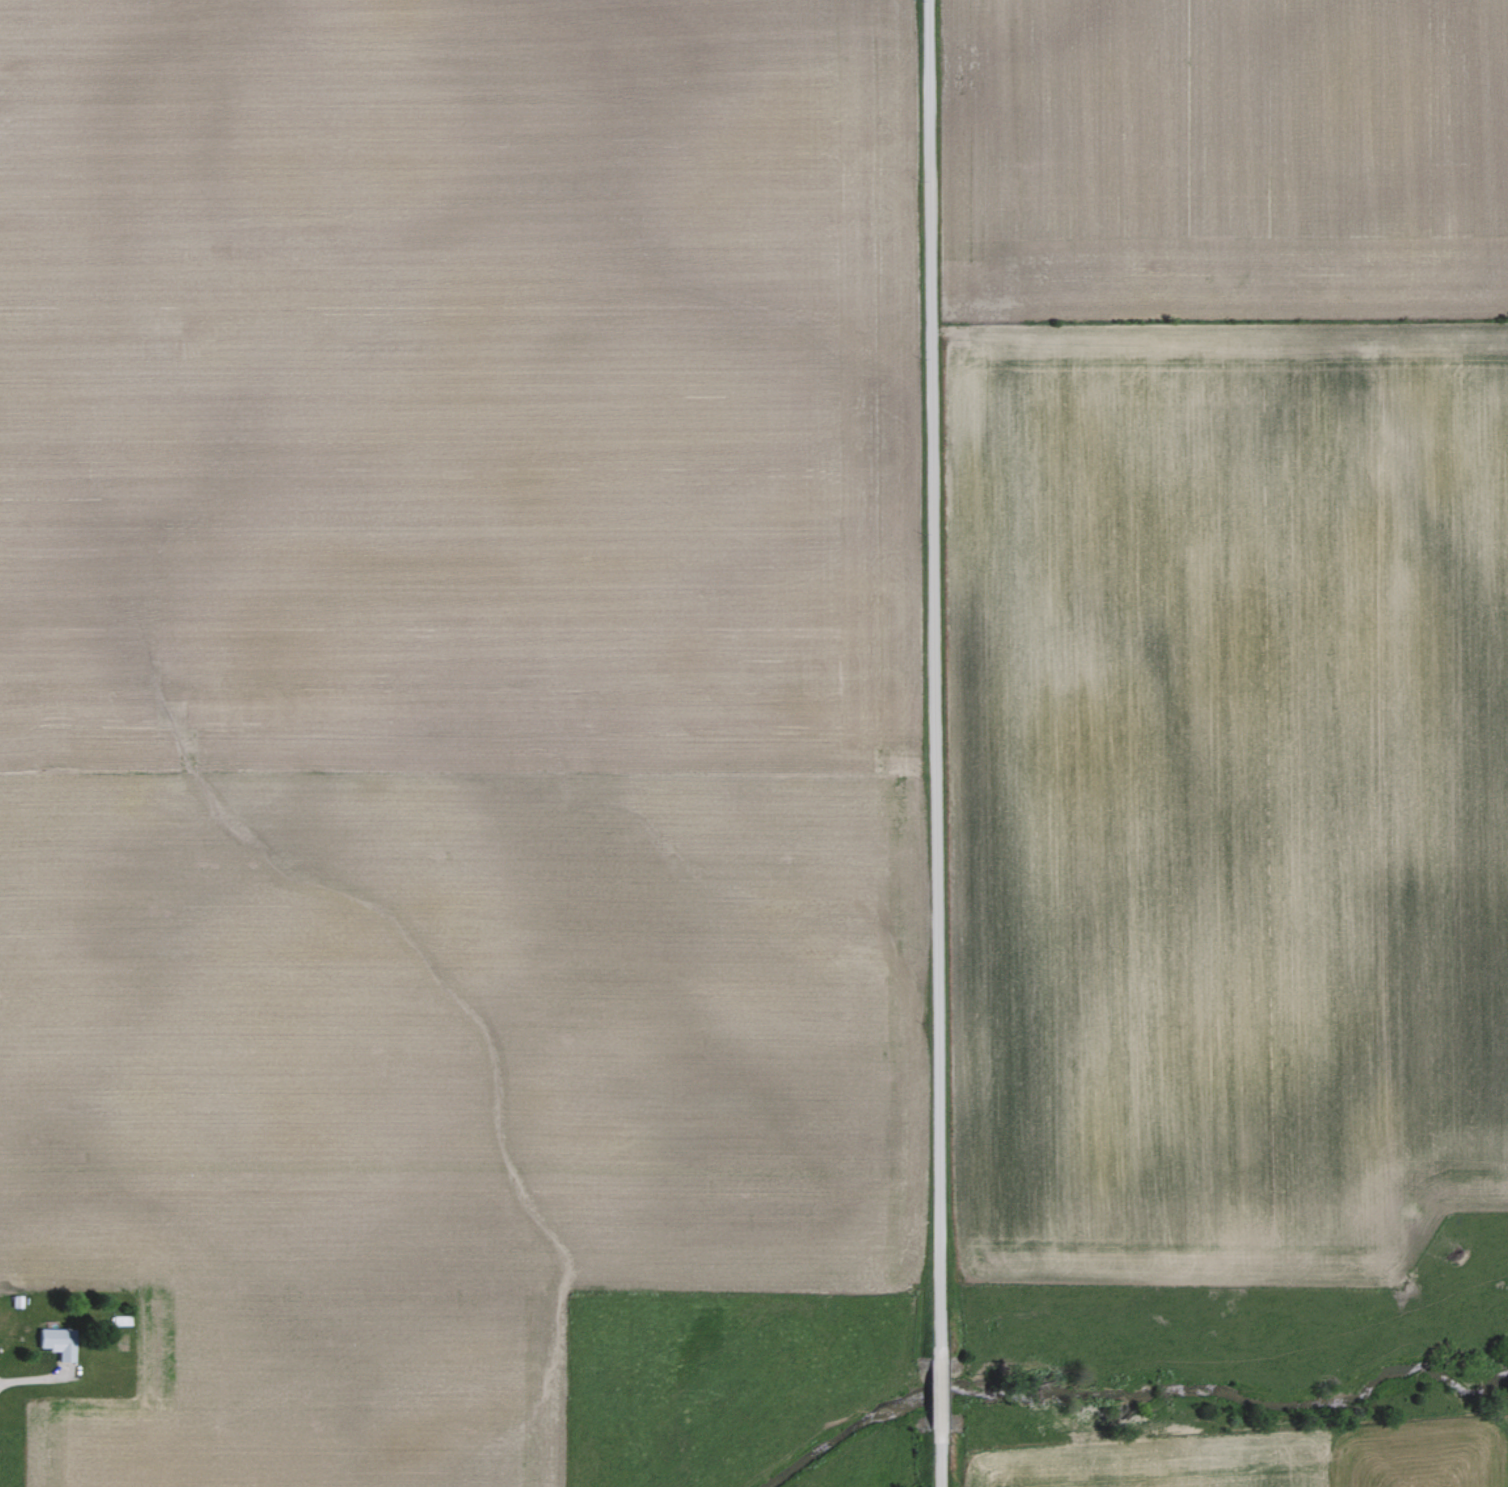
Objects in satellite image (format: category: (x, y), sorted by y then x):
road: (933, 672)
building: (58, 1340)
road: (36, 1381)
road: (937, 1386)
road: (937, 1457)

